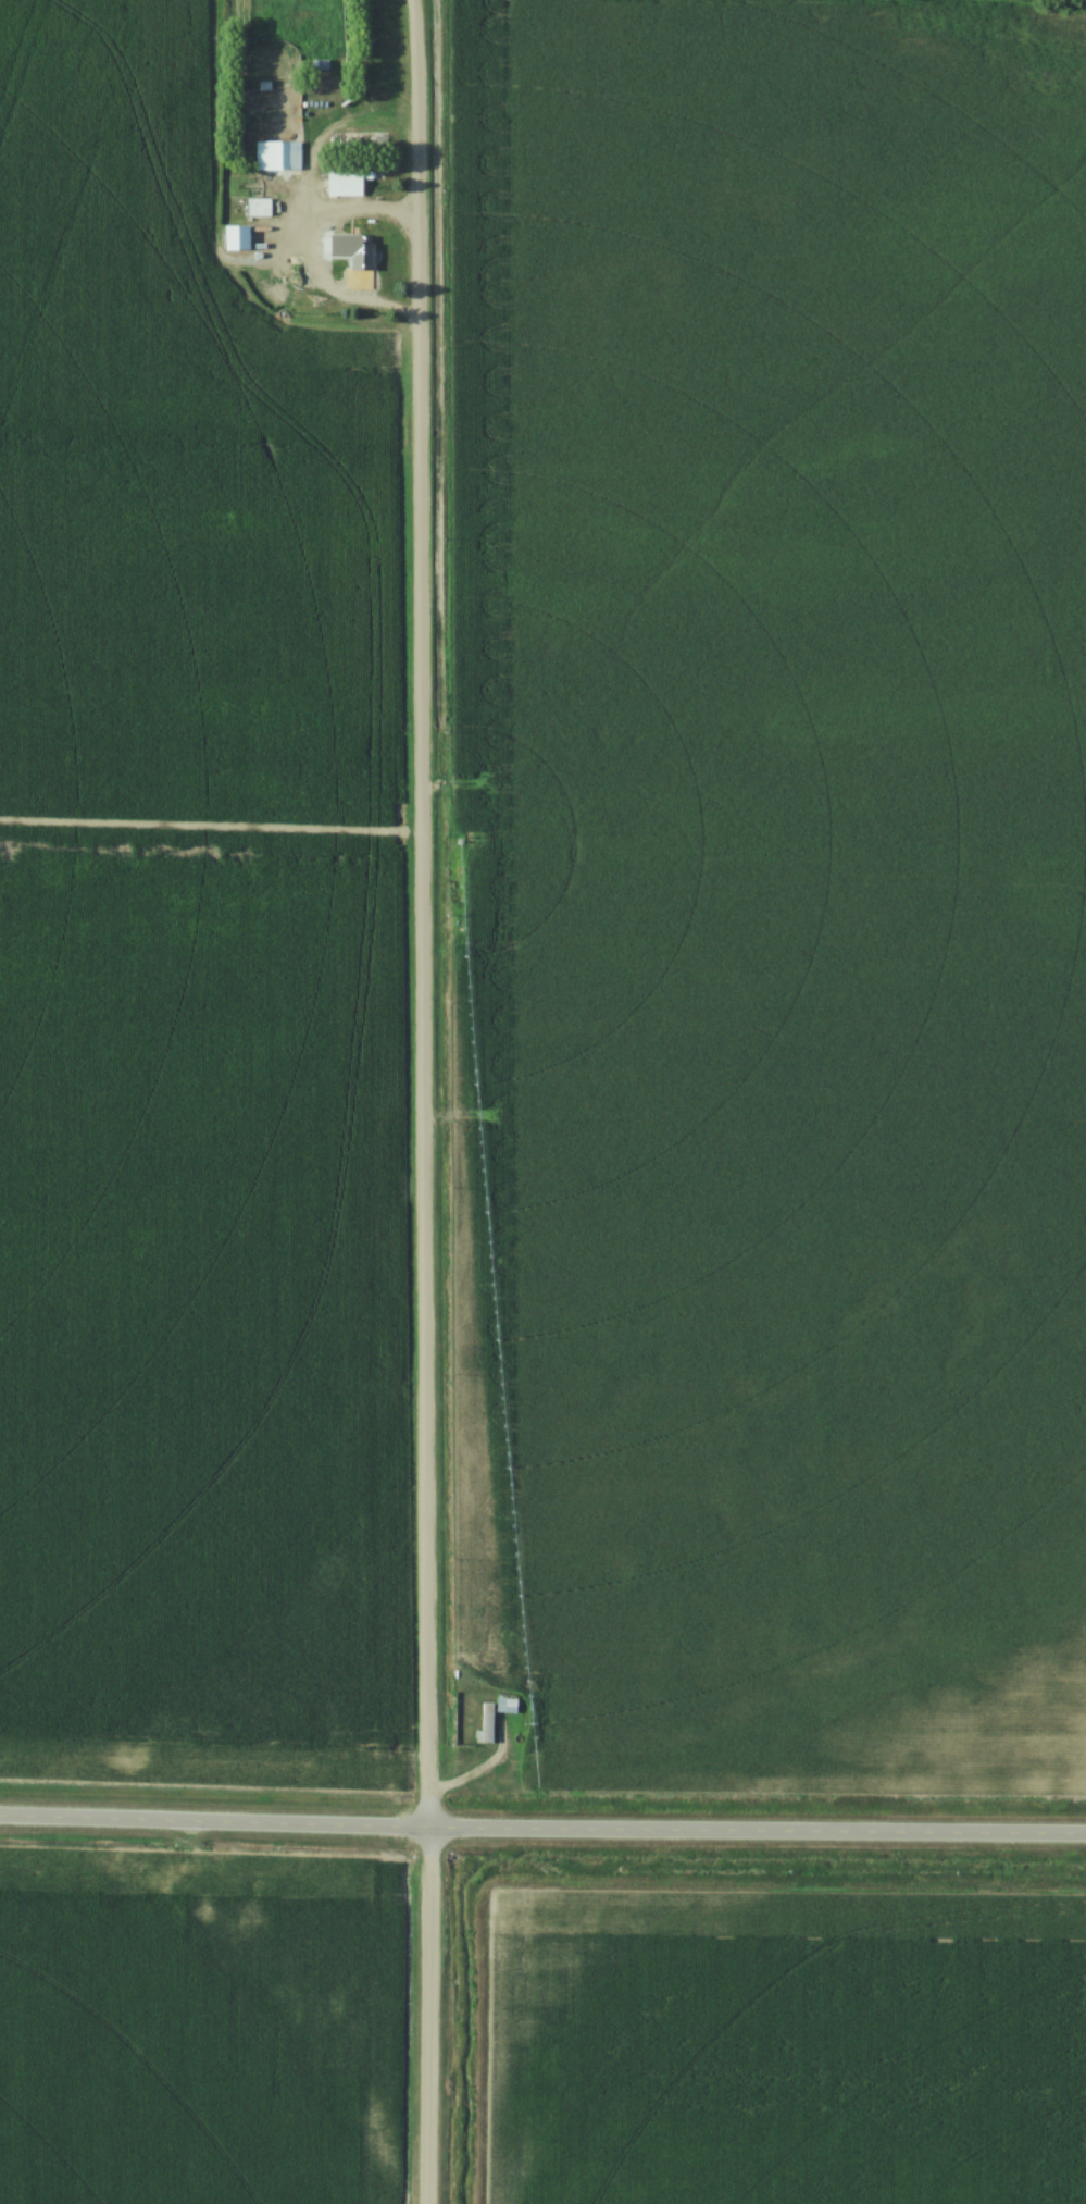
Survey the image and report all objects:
building: (278, 157)
building: (347, 184)
building: (261, 208)
building: (239, 237)
road: (312, 255)
building: (364, 265)
building: (229, 277)
road: (417, 1101)
building: (508, 1706)
building: (489, 1724)
road: (542, 1832)

